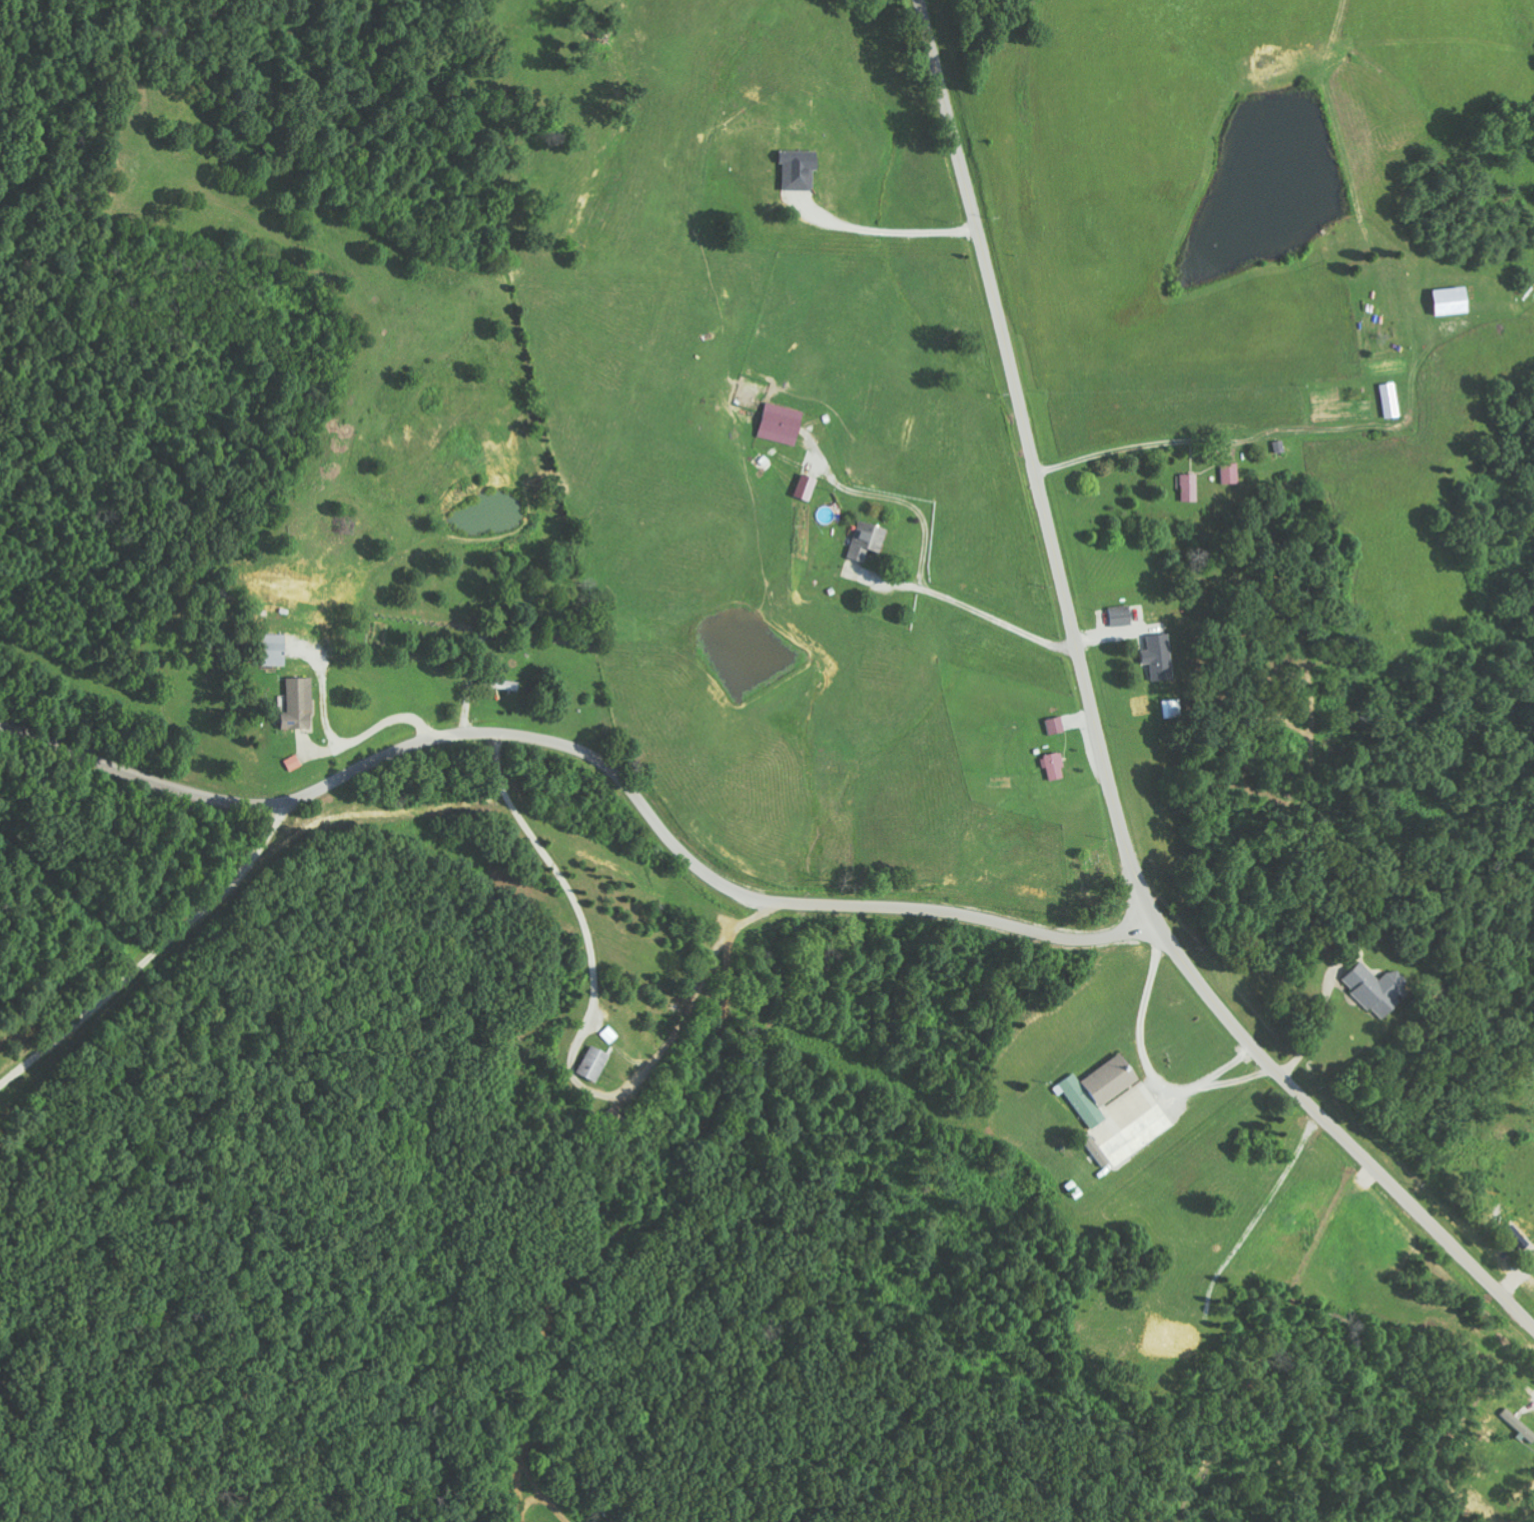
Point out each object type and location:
building: (791, 171)
building: (1439, 301)
building: (1384, 400)
building: (775, 423)
road: (1037, 468)
building: (1226, 473)
building: (800, 487)
building: (1185, 487)
building: (862, 541)
building: (1116, 616)
building: (279, 650)
building: (1151, 656)
building: (300, 704)
building: (1052, 725)
road: (597, 760)
building: (294, 763)
building: (1050, 766)
building: (1367, 988)
building: (595, 1064)
building: (1094, 1088)
road: (1343, 1135)
building: (1092, 1150)
road: (457, 1190)
road: (496, 1371)
building: (1516, 1425)
road: (730, 1506)

